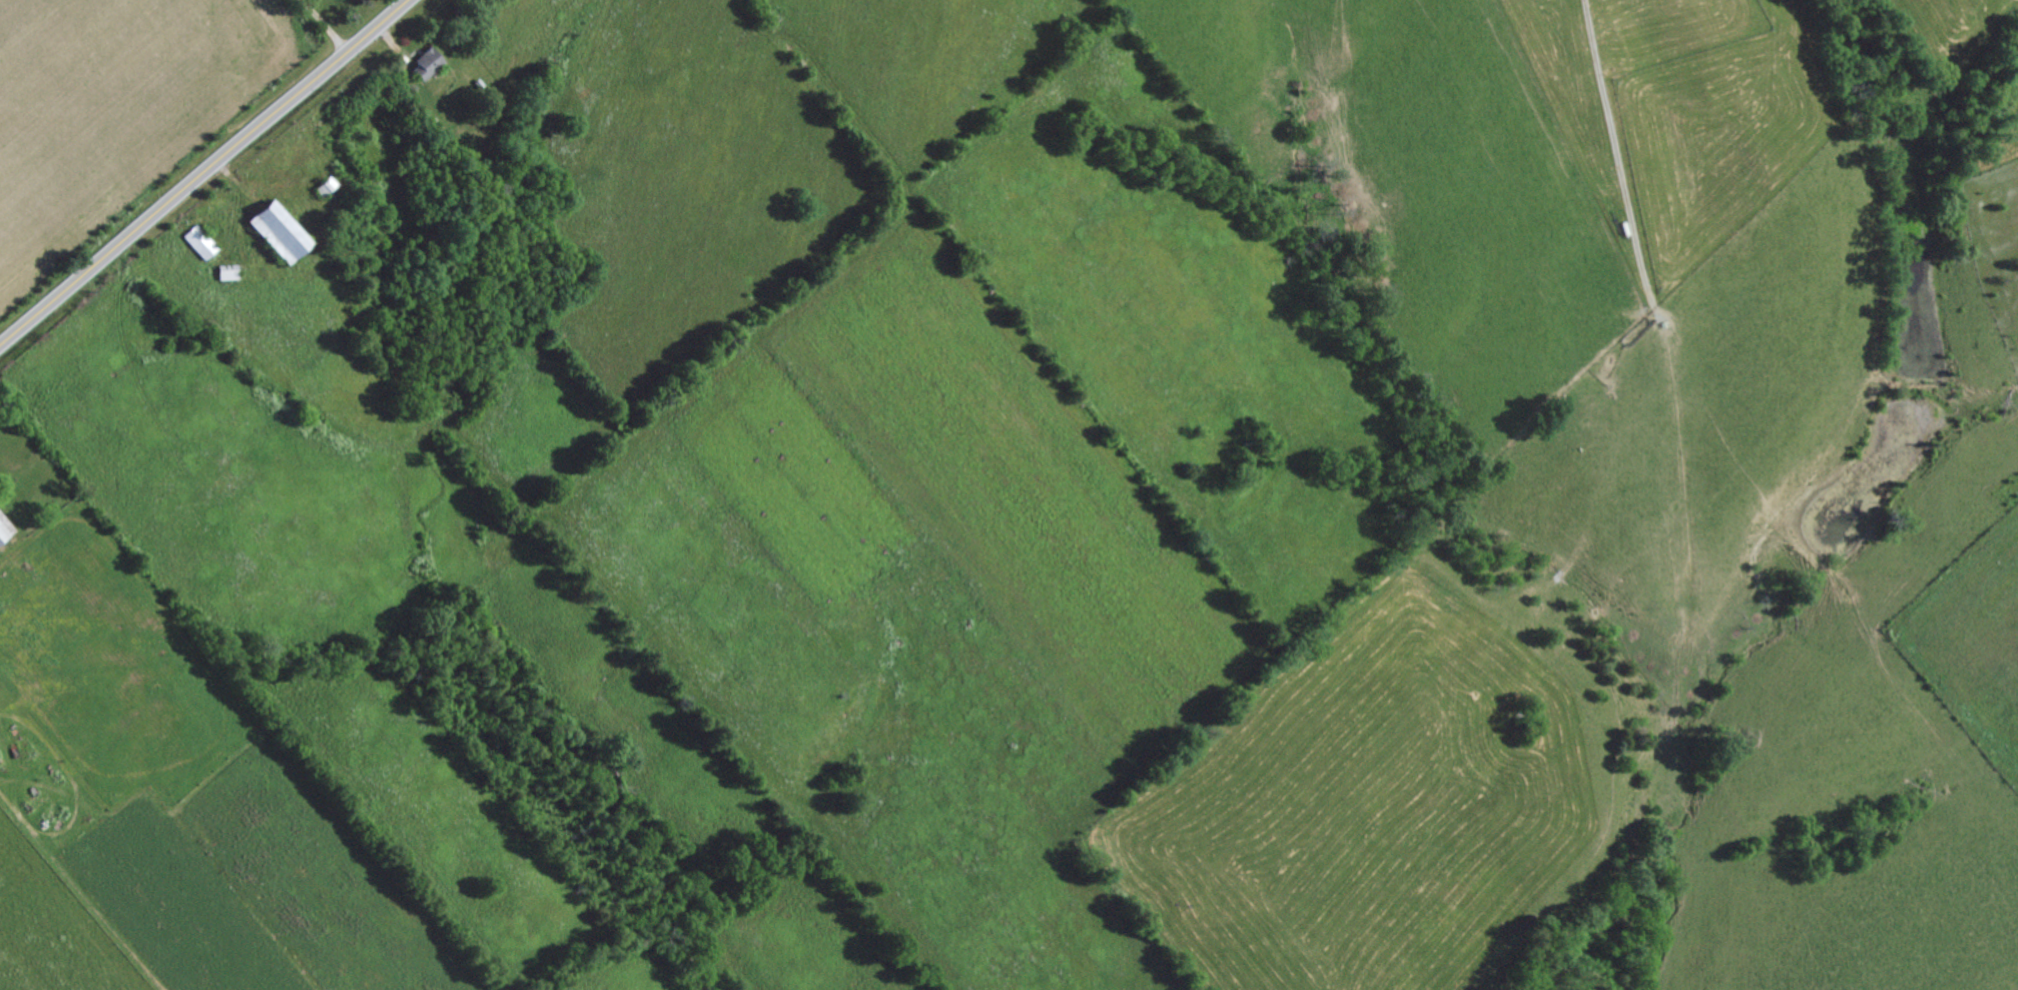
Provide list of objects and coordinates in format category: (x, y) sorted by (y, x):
road: (325, 27)
building: (424, 61)
road: (206, 174)
building: (279, 230)
building: (4, 525)

